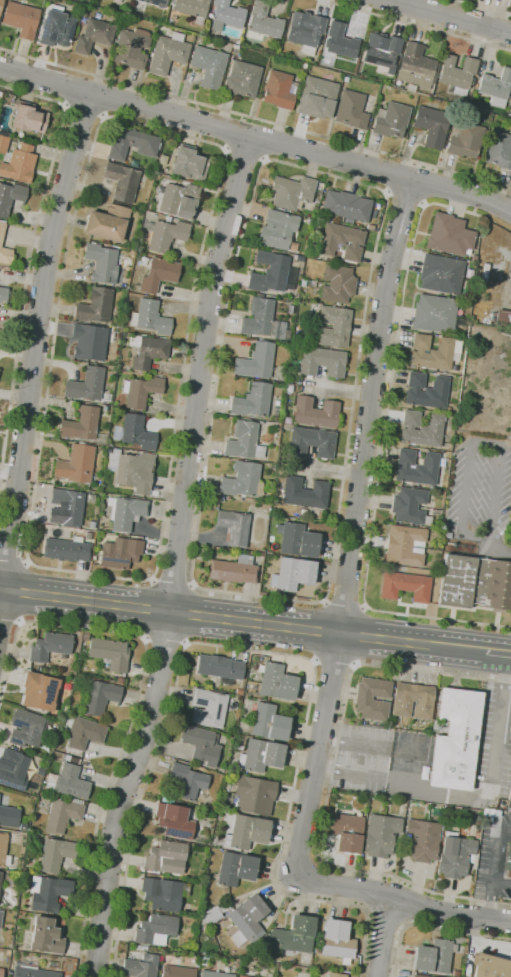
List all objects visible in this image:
building: (155, 2)
building: (0, 3)
building: (191, 7)
road: (484, 7)
building: (226, 15)
road: (451, 15)
building: (20, 19)
building: (264, 21)
road: (415, 25)
building: (56, 27)
building: (305, 31)
building: (93, 35)
building: (237, 42)
building: (339, 43)
building: (234, 46)
building: (130, 48)
building: (381, 51)
building: (167, 53)
building: (303, 65)
building: (208, 66)
building: (416, 66)
building: (458, 74)
building: (241, 79)
building: (345, 79)
building: (474, 86)
building: (396, 87)
building: (496, 87)
building: (279, 90)
building: (421, 94)
building: (316, 97)
building: (351, 110)
road: (84, 112)
building: (510, 113)
building: (467, 116)
building: (28, 118)
road: (256, 118)
building: (390, 120)
building: (431, 126)
road: (256, 137)
building: (465, 140)
building: (3, 144)
building: (132, 144)
road: (218, 145)
building: (499, 150)
road: (245, 155)
building: (134, 163)
building: (19, 164)
building: (188, 164)
building: (122, 182)
building: (320, 186)
road: (380, 189)
building: (291, 192)
building: (10, 197)
building: (179, 200)
road: (405, 200)
building: (345, 205)
building: (167, 219)
building: (107, 223)
building: (370, 227)
building: (277, 229)
building: (1, 231)
building: (165, 234)
building: (141, 235)
building: (450, 235)
building: (341, 242)
building: (5, 255)
road: (28, 263)
building: (101, 263)
building: (269, 273)
building: (157, 274)
building: (440, 274)
building: (337, 284)
building: (131, 287)
building: (3, 294)
building: (259, 295)
building: (95, 305)
building: (434, 314)
building: (150, 318)
building: (503, 318)
building: (263, 321)
building: (333, 326)
building: (0, 334)
building: (89, 342)
building: (147, 351)
building: (434, 352)
road: (34, 356)
building: (255, 361)
building: (321, 361)
building: (86, 384)
building: (140, 391)
building: (426, 391)
building: (252, 401)
building: (315, 412)
building: (275, 413)
building: (82, 426)
building: (421, 429)
building: (135, 433)
road: (471, 440)
building: (244, 441)
building: (311, 442)
building: (83, 443)
road: (383, 445)
building: (76, 466)
building: (416, 468)
building: (131, 470)
building: (242, 480)
building: (304, 493)
building: (226, 497)
building: (245, 499)
building: (68, 506)
building: (409, 506)
building: (125, 512)
building: (86, 523)
road: (351, 526)
building: (233, 527)
building: (447, 532)
building: (296, 540)
building: (405, 545)
building: (66, 549)
road: (495, 550)
building: (120, 553)
road: (174, 557)
road: (14, 559)
building: (233, 570)
building: (292, 574)
building: (434, 574)
road: (172, 582)
building: (476, 582)
building: (405, 586)
road: (344, 604)
road: (168, 612)
road: (10, 621)
building: (84, 635)
road: (368, 638)
road: (165, 642)
building: (50, 646)
road: (443, 646)
road: (498, 652)
road: (275, 653)
building: (109, 654)
road: (334, 664)
building: (219, 668)
building: (119, 680)
building: (276, 682)
building: (38, 691)
building: (99, 697)
building: (363, 699)
building: (412, 700)
road: (134, 708)
building: (208, 708)
building: (268, 722)
road: (499, 725)
building: (28, 728)
building: (82, 731)
building: (455, 739)
building: (201, 744)
building: (260, 756)
building: (13, 769)
building: (69, 780)
building: (187, 781)
road: (329, 783)
building: (251, 794)
building: (449, 811)
building: (62, 814)
building: (480, 816)
building: (9, 817)
building: (174, 821)
building: (454, 824)
building: (23, 825)
building: (478, 829)
road: (507, 829)
building: (246, 832)
building: (347, 832)
building: (380, 835)
building: (422, 840)
building: (2, 847)
building: (458, 851)
building: (53, 853)
building: (166, 857)
building: (508, 858)
building: (236, 868)
road: (494, 873)
building: (0, 875)
road: (502, 883)
building: (48, 893)
building: (163, 894)
building: (225, 896)
road: (403, 899)
building: (223, 908)
building: (0, 916)
building: (210, 916)
building: (246, 920)
road: (432, 926)
building: (155, 929)
building: (293, 935)
road: (383, 936)
building: (46, 937)
building: (459, 940)
building: (336, 941)
building: (425, 943)
building: (434, 956)
building: (265, 957)
building: (204, 961)
building: (140, 966)
building: (490, 966)
building: (32, 971)
building: (176, 971)
building: (1, 972)
building: (215, 974)
building: (336, 974)
building: (457, 974)
building: (243, 976)
building: (418, 976)

